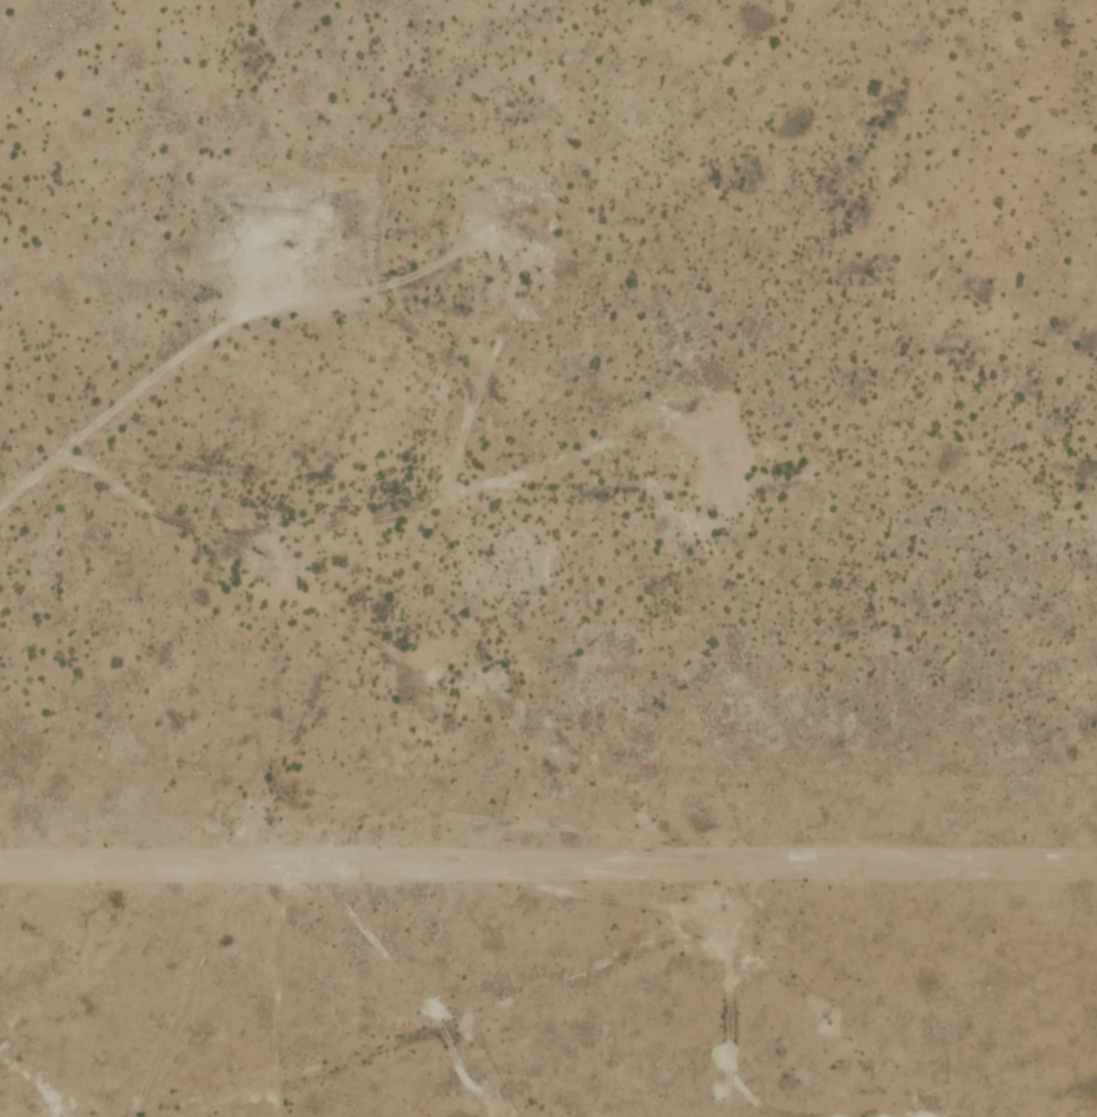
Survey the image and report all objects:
road: (706, 424)
road: (19, 459)
road: (304, 624)
road: (210, 874)
road: (354, 953)
road: (624, 970)

